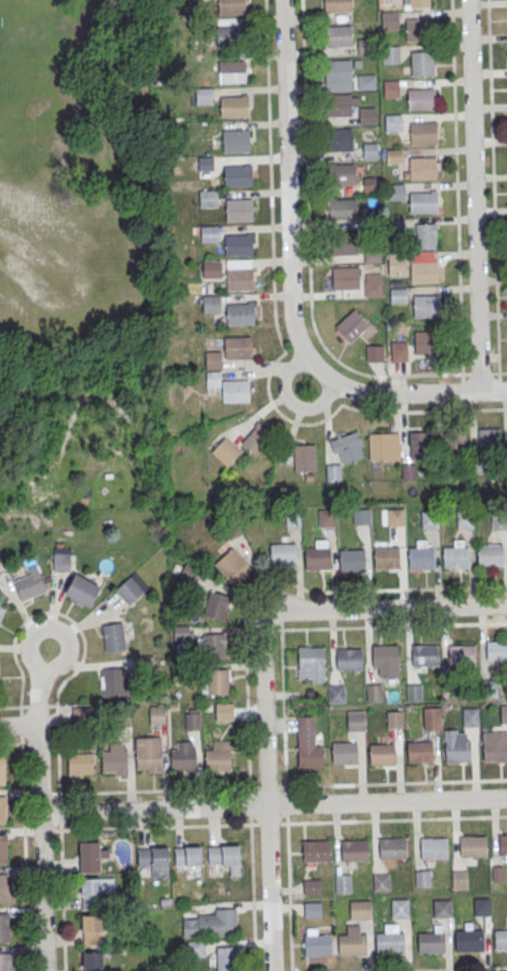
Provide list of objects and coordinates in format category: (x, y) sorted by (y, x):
building: (416, 4)
building: (231, 6)
building: (338, 6)
building: (390, 20)
building: (418, 29)
building: (337, 35)
building: (230, 36)
building: (361, 50)
building: (390, 54)
building: (421, 63)
building: (337, 69)
building: (231, 71)
building: (365, 81)
building: (389, 88)
building: (203, 95)
building: (421, 99)
building: (336, 104)
building: (234, 105)
building: (366, 115)
building: (392, 122)
building: (423, 133)
building: (338, 139)
building: (235, 141)
building: (369, 150)
building: (393, 156)
building: (204, 162)
building: (422, 167)
building: (341, 174)
building: (237, 176)
building: (371, 184)
road: (289, 189)
road: (493, 190)
building: (395, 191)
road: (474, 196)
building: (208, 198)
building: (423, 201)
road: (457, 204)
building: (342, 207)
building: (239, 209)
building: (395, 225)
building: (209, 233)
building: (425, 235)
building: (238, 244)
building: (343, 244)
road: (309, 249)
building: (371, 253)
building: (396, 262)
building: (212, 268)
building: (423, 271)
building: (344, 277)
building: (239, 278)
road: (274, 281)
building: (371, 287)
building: (398, 295)
building: (211, 303)
building: (426, 304)
building: (240, 313)
building: (350, 325)
building: (425, 341)
building: (238, 348)
building: (397, 351)
building: (374, 352)
building: (225, 380)
road: (409, 394)
road: (457, 411)
building: (256, 438)
building: (453, 442)
building: (488, 442)
building: (420, 444)
building: (389, 445)
building: (225, 451)
building: (344, 453)
building: (304, 457)
building: (408, 471)
building: (361, 515)
building: (326, 517)
building: (396, 517)
building: (428, 518)
building: (465, 519)
building: (498, 520)
building: (282, 553)
building: (489, 554)
building: (386, 556)
building: (455, 556)
building: (317, 557)
building: (421, 557)
building: (351, 559)
building: (61, 563)
building: (233, 567)
building: (189, 571)
building: (0, 573)
road: (283, 584)
building: (29, 585)
building: (81, 590)
building: (129, 590)
building: (216, 605)
road: (385, 609)
building: (1, 611)
building: (183, 632)
building: (113, 637)
building: (213, 645)
building: (496, 650)
building: (461, 653)
building: (424, 655)
building: (349, 659)
building: (385, 659)
building: (310, 663)
building: (112, 681)
building: (216, 681)
building: (490, 688)
road: (40, 691)
building: (414, 691)
building: (374, 692)
building: (335, 693)
building: (157, 713)
building: (503, 713)
building: (469, 716)
building: (430, 718)
building: (394, 719)
building: (192, 720)
building: (355, 720)
road: (18, 727)
building: (420, 752)
building: (457, 753)
building: (495, 753)
building: (148, 754)
building: (382, 754)
building: (183, 755)
building: (344, 755)
building: (218, 756)
building: (114, 759)
building: (310, 759)
building: (79, 763)
road: (38, 770)
building: (2, 773)
road: (359, 785)
road: (268, 794)
road: (273, 806)
building: (3, 810)
road: (378, 821)
road: (25, 828)
road: (156, 828)
building: (502, 844)
building: (472, 846)
building: (392, 848)
building: (434, 848)
building: (3, 849)
building: (315, 849)
building: (354, 850)
building: (91, 858)
building: (226, 860)
building: (154, 862)
building: (189, 862)
building: (423, 880)
building: (460, 881)
building: (382, 883)
building: (343, 885)
building: (312, 887)
building: (4, 889)
building: (92, 891)
road: (42, 892)
road: (289, 897)
road: (253, 898)
building: (482, 907)
building: (399, 909)
building: (442, 909)
building: (313, 910)
building: (361, 911)
building: (211, 924)
building: (4, 928)
building: (92, 930)
building: (500, 940)
building: (469, 941)
building: (390, 943)
building: (431, 943)
building: (352, 944)
building: (317, 945)
building: (196, 949)
building: (93, 959)
building: (226, 959)
building: (5, 962)
road: (468, 969)

